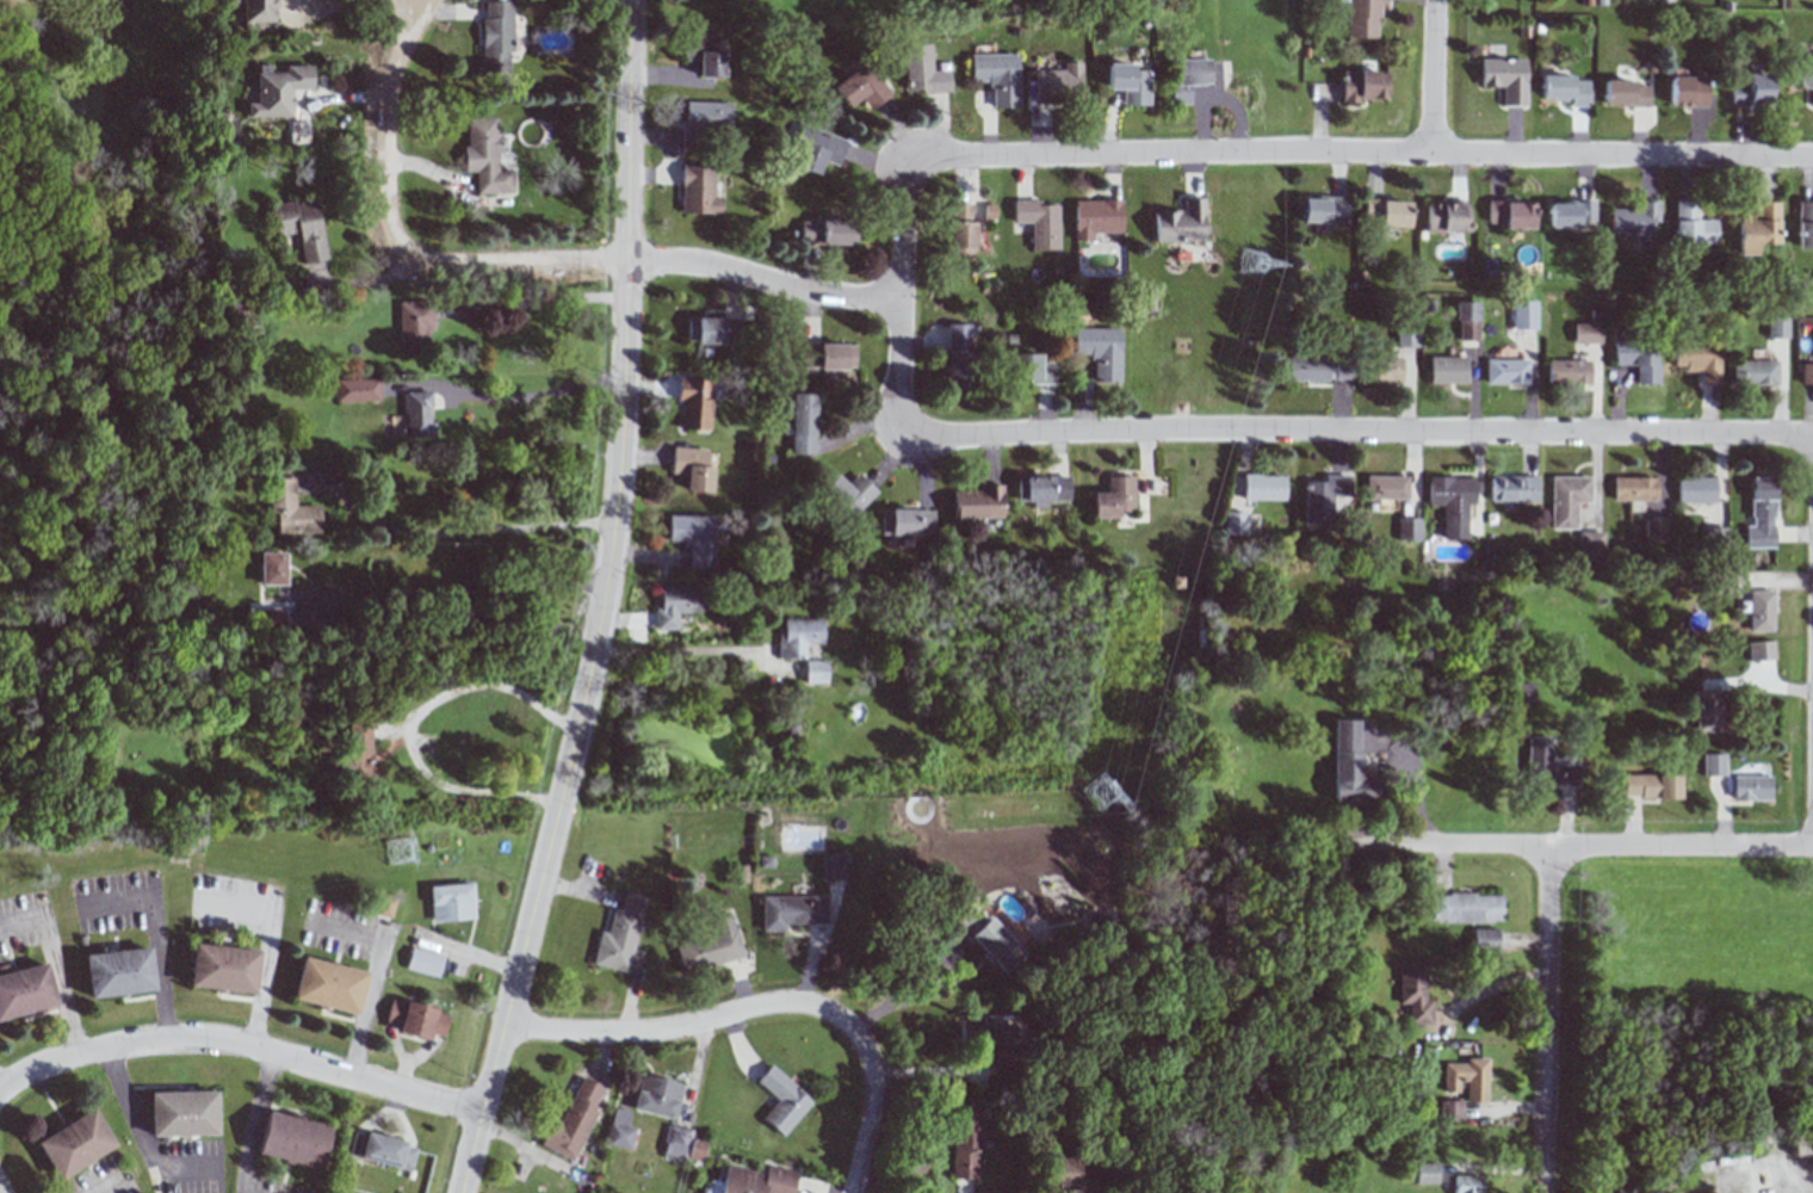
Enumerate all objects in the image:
building: (256, 11)
road: (303, 12)
building: (1362, 18)
building: (495, 33)
building: (703, 54)
building: (922, 70)
building: (1801, 74)
building: (997, 76)
road: (1433, 78)
building: (1505, 78)
building: (1187, 79)
building: (1057, 82)
building: (1128, 84)
building: (1362, 85)
building: (860, 88)
building: (1564, 88)
building: (277, 89)
building: (1688, 91)
building: (1751, 91)
building: (1623, 93)
building: (701, 122)
building: (816, 148)
road: (1288, 150)
building: (484, 156)
building: (697, 190)
building: (1323, 210)
building: (989, 211)
building: (1387, 212)
building: (1510, 214)
building: (1570, 214)
building: (1446, 216)
building: (1095, 217)
building: (1633, 220)
building: (1038, 222)
building: (1180, 223)
building: (1805, 223)
building: (299, 225)
building: (1693, 225)
building: (1758, 228)
building: (959, 230)
building: (827, 231)
power tower: (1245, 264)
road: (521, 265)
building: (1523, 314)
building: (1466, 321)
building: (413, 327)
building: (1776, 327)
building: (711, 330)
building: (1585, 333)
building: (1405, 336)
building: (1099, 351)
building: (957, 354)
building: (827, 356)
building: (1638, 358)
building: (1698, 359)
building: (1307, 367)
building: (1029, 369)
building: (1338, 369)
building: (1380, 370)
building: (1446, 370)
building: (1505, 371)
building: (1567, 371)
building: (1753, 372)
building: (1806, 373)
building: (354, 390)
road: (502, 398)
building: (692, 403)
building: (416, 415)
building: (802, 424)
road: (1286, 429)
building: (691, 468)
building: (1262, 487)
building: (1384, 487)
building: (1512, 488)
building: (1040, 489)
building: (1695, 489)
building: (848, 493)
building: (1112, 497)
building: (1322, 497)
building: (1566, 500)
building: (977, 502)
building: (1450, 502)
building: (290, 508)
building: (1761, 514)
building: (905, 523)
building: (1233, 523)
building: (1406, 528)
building: (1653, 530)
road: (448, 531)
building: (693, 538)
building: (1590, 545)
building: (271, 568)
road: (441, 591)
road: (599, 604)
building: (676, 605)
building: (302, 618)
building: (262, 619)
building: (797, 637)
road: (675, 650)
building: (1759, 650)
building: (813, 672)
building: (1521, 692)
building: (1704, 710)
road: (407, 723)
building: (357, 750)
building: (1347, 765)
building: (1546, 765)
building: (1713, 765)
road: (1413, 786)
building: (1651, 786)
building: (1750, 787)
power tower: (1101, 791)
road: (1565, 849)
power tower: (398, 854)
building: (834, 866)
building: (451, 902)
building: (384, 905)
building: (1465, 907)
building: (791, 911)
road: (157, 932)
building: (618, 935)
building: (988, 939)
building: (1484, 940)
building: (710, 946)
road: (266, 947)
building: (422, 962)
road: (928, 962)
building: (222, 968)
road: (55, 970)
building: (118, 972)
road: (375, 976)
building: (328, 985)
building: (24, 990)
building: (1412, 990)
road: (763, 1003)
building: (415, 1020)
road: (1545, 1021)
building: (989, 1039)
road: (239, 1043)
building: (1467, 1078)
building: (656, 1095)
building: (781, 1100)
building: (1449, 1109)
building: (182, 1113)
building: (571, 1120)
road: (252, 1123)
building: (619, 1130)
road: (144, 1131)
building: (966, 1137)
building: (292, 1139)
building: (675, 1142)
building: (74, 1143)
building: (695, 1149)
building: (380, 1150)
building: (1070, 1173)
building: (1424, 1173)
building: (755, 1180)
building: (1465, 1183)
road: (110, 1185)
road: (1763, 1187)
road: (1752, 1191)
road: (0, 1192)

